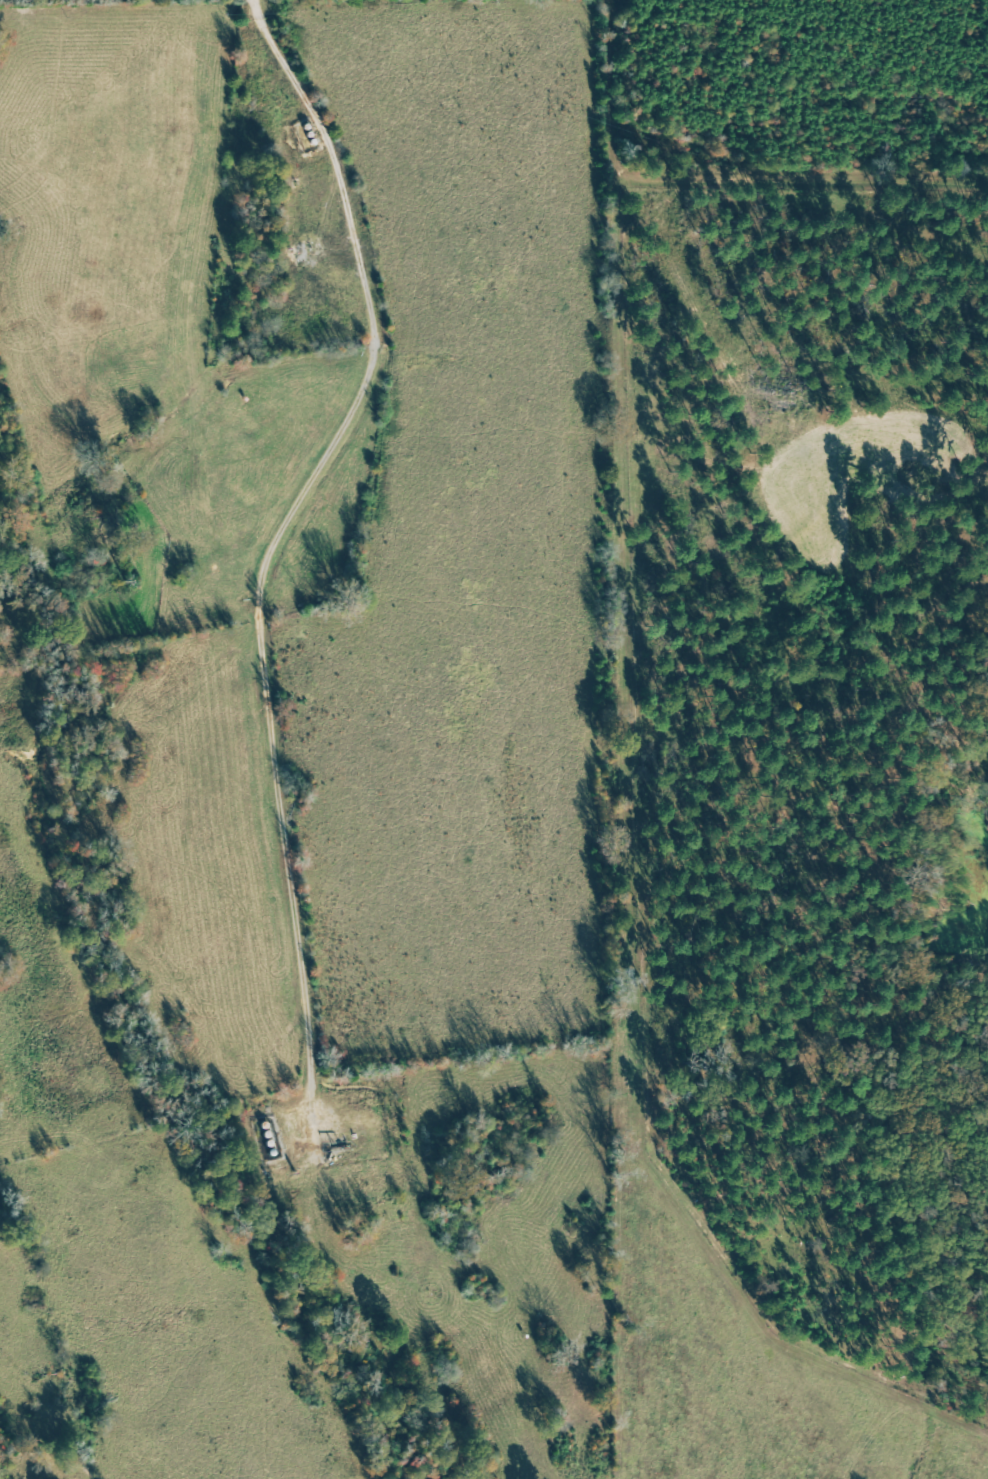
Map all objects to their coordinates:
road: (728, 169)

